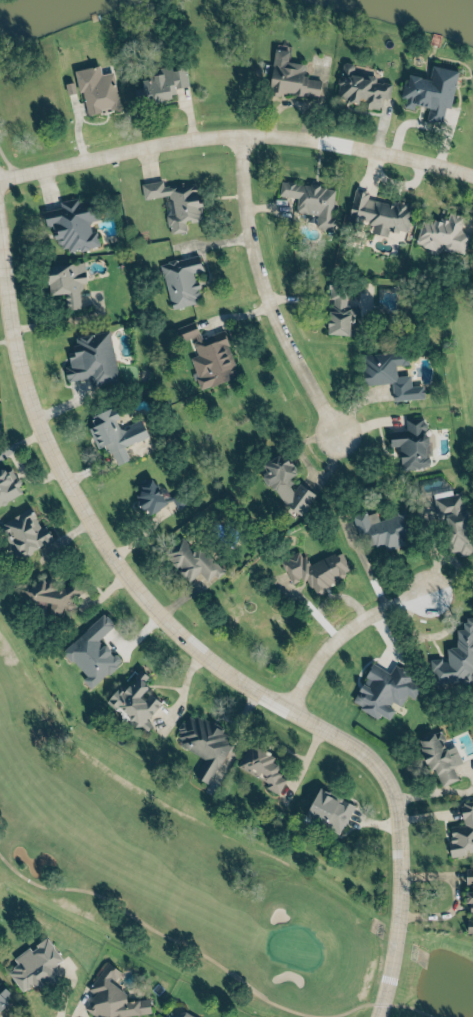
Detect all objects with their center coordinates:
building: (288, 76)
building: (161, 82)
building: (358, 86)
building: (94, 88)
building: (428, 90)
road: (236, 130)
building: (173, 201)
building: (310, 201)
building: (378, 212)
building: (70, 223)
building: (440, 233)
building: (179, 278)
building: (64, 281)
road: (277, 293)
building: (337, 310)
road: (5, 342)
building: (207, 356)
building: (89, 358)
building: (385, 370)
building: (114, 432)
building: (409, 443)
building: (282, 481)
building: (7, 484)
building: (147, 497)
building: (451, 519)
building: (380, 528)
building: (23, 532)
building: (190, 559)
building: (313, 569)
building: (48, 593)
road: (356, 623)
building: (90, 651)
road: (212, 656)
building: (455, 657)
building: (381, 688)
building: (132, 702)
building: (202, 743)
building: (437, 757)
building: (259, 767)
building: (326, 810)
building: (461, 832)
building: (468, 898)
building: (32, 965)
building: (3, 994)
building: (110, 997)
road: (406, 1008)
building: (175, 1012)

